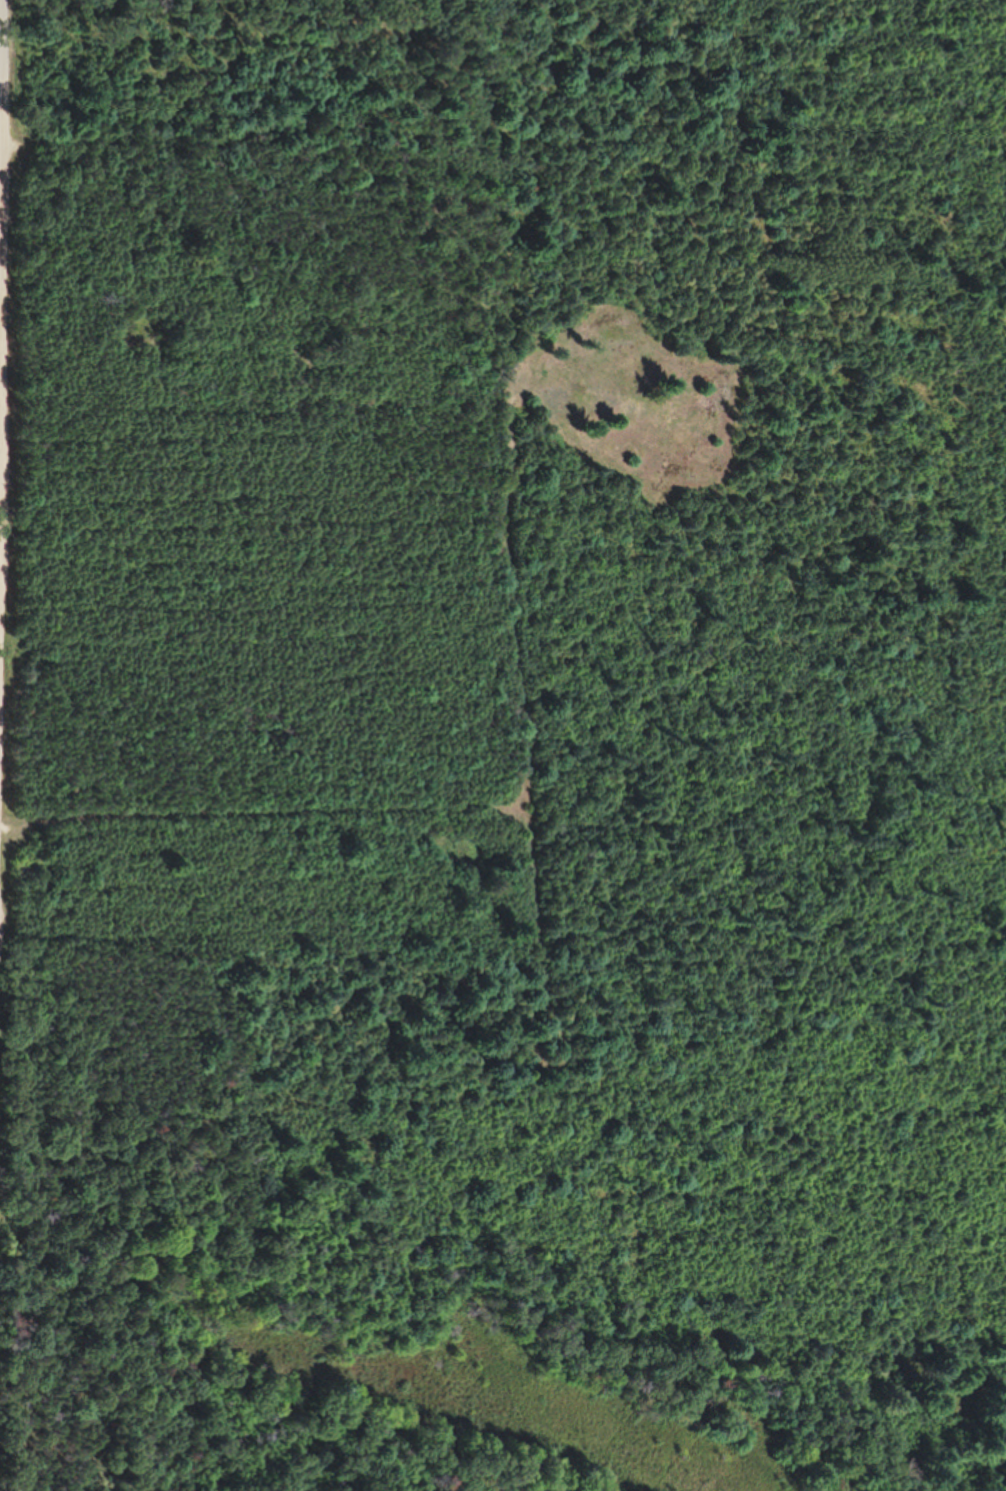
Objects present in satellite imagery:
road: (5, 42)
road: (3, 509)

